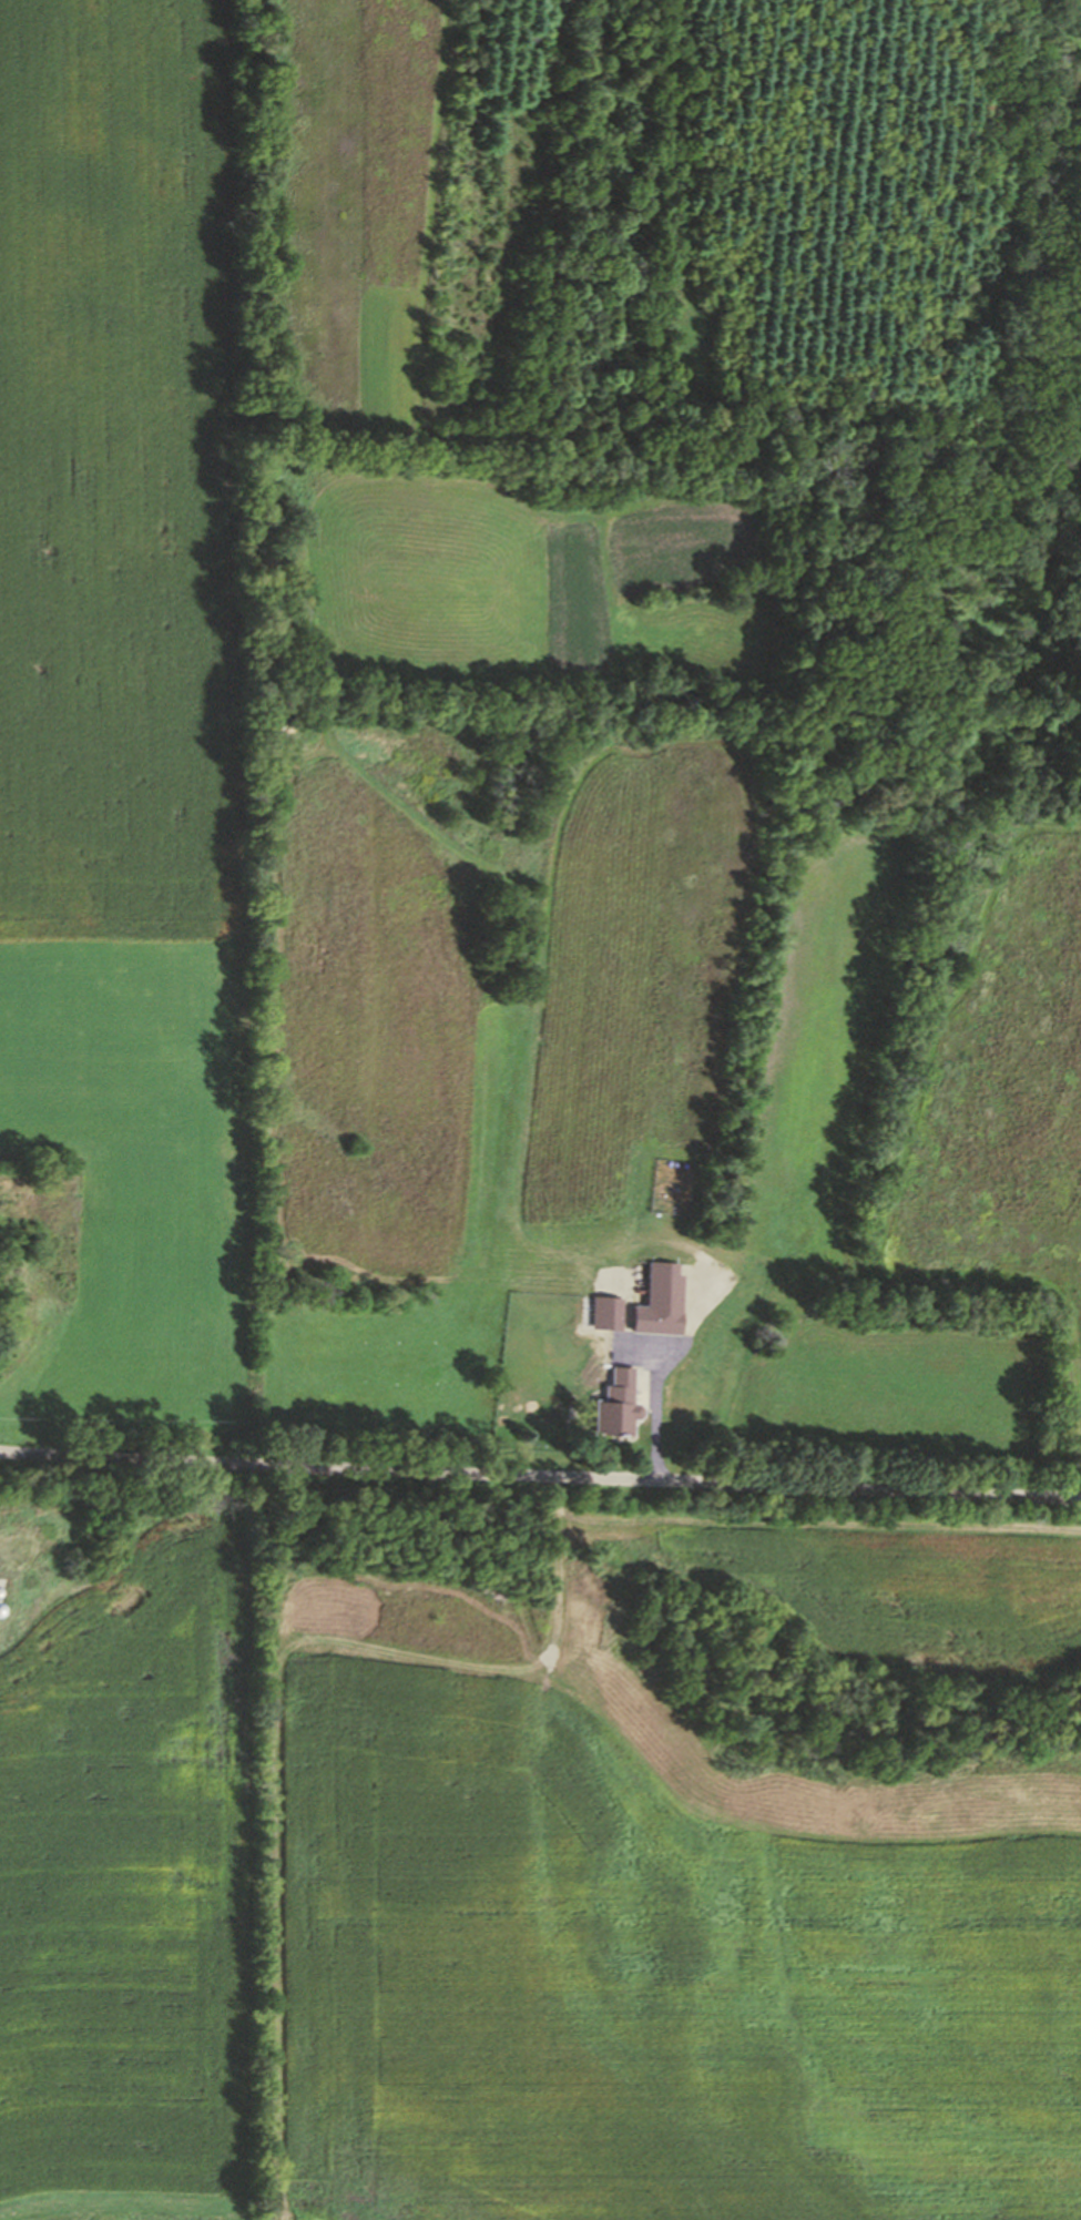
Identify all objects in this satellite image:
building: (660, 1190)
building: (657, 1300)
building: (604, 1312)
building: (612, 1404)
road: (655, 1411)
road: (540, 1473)

